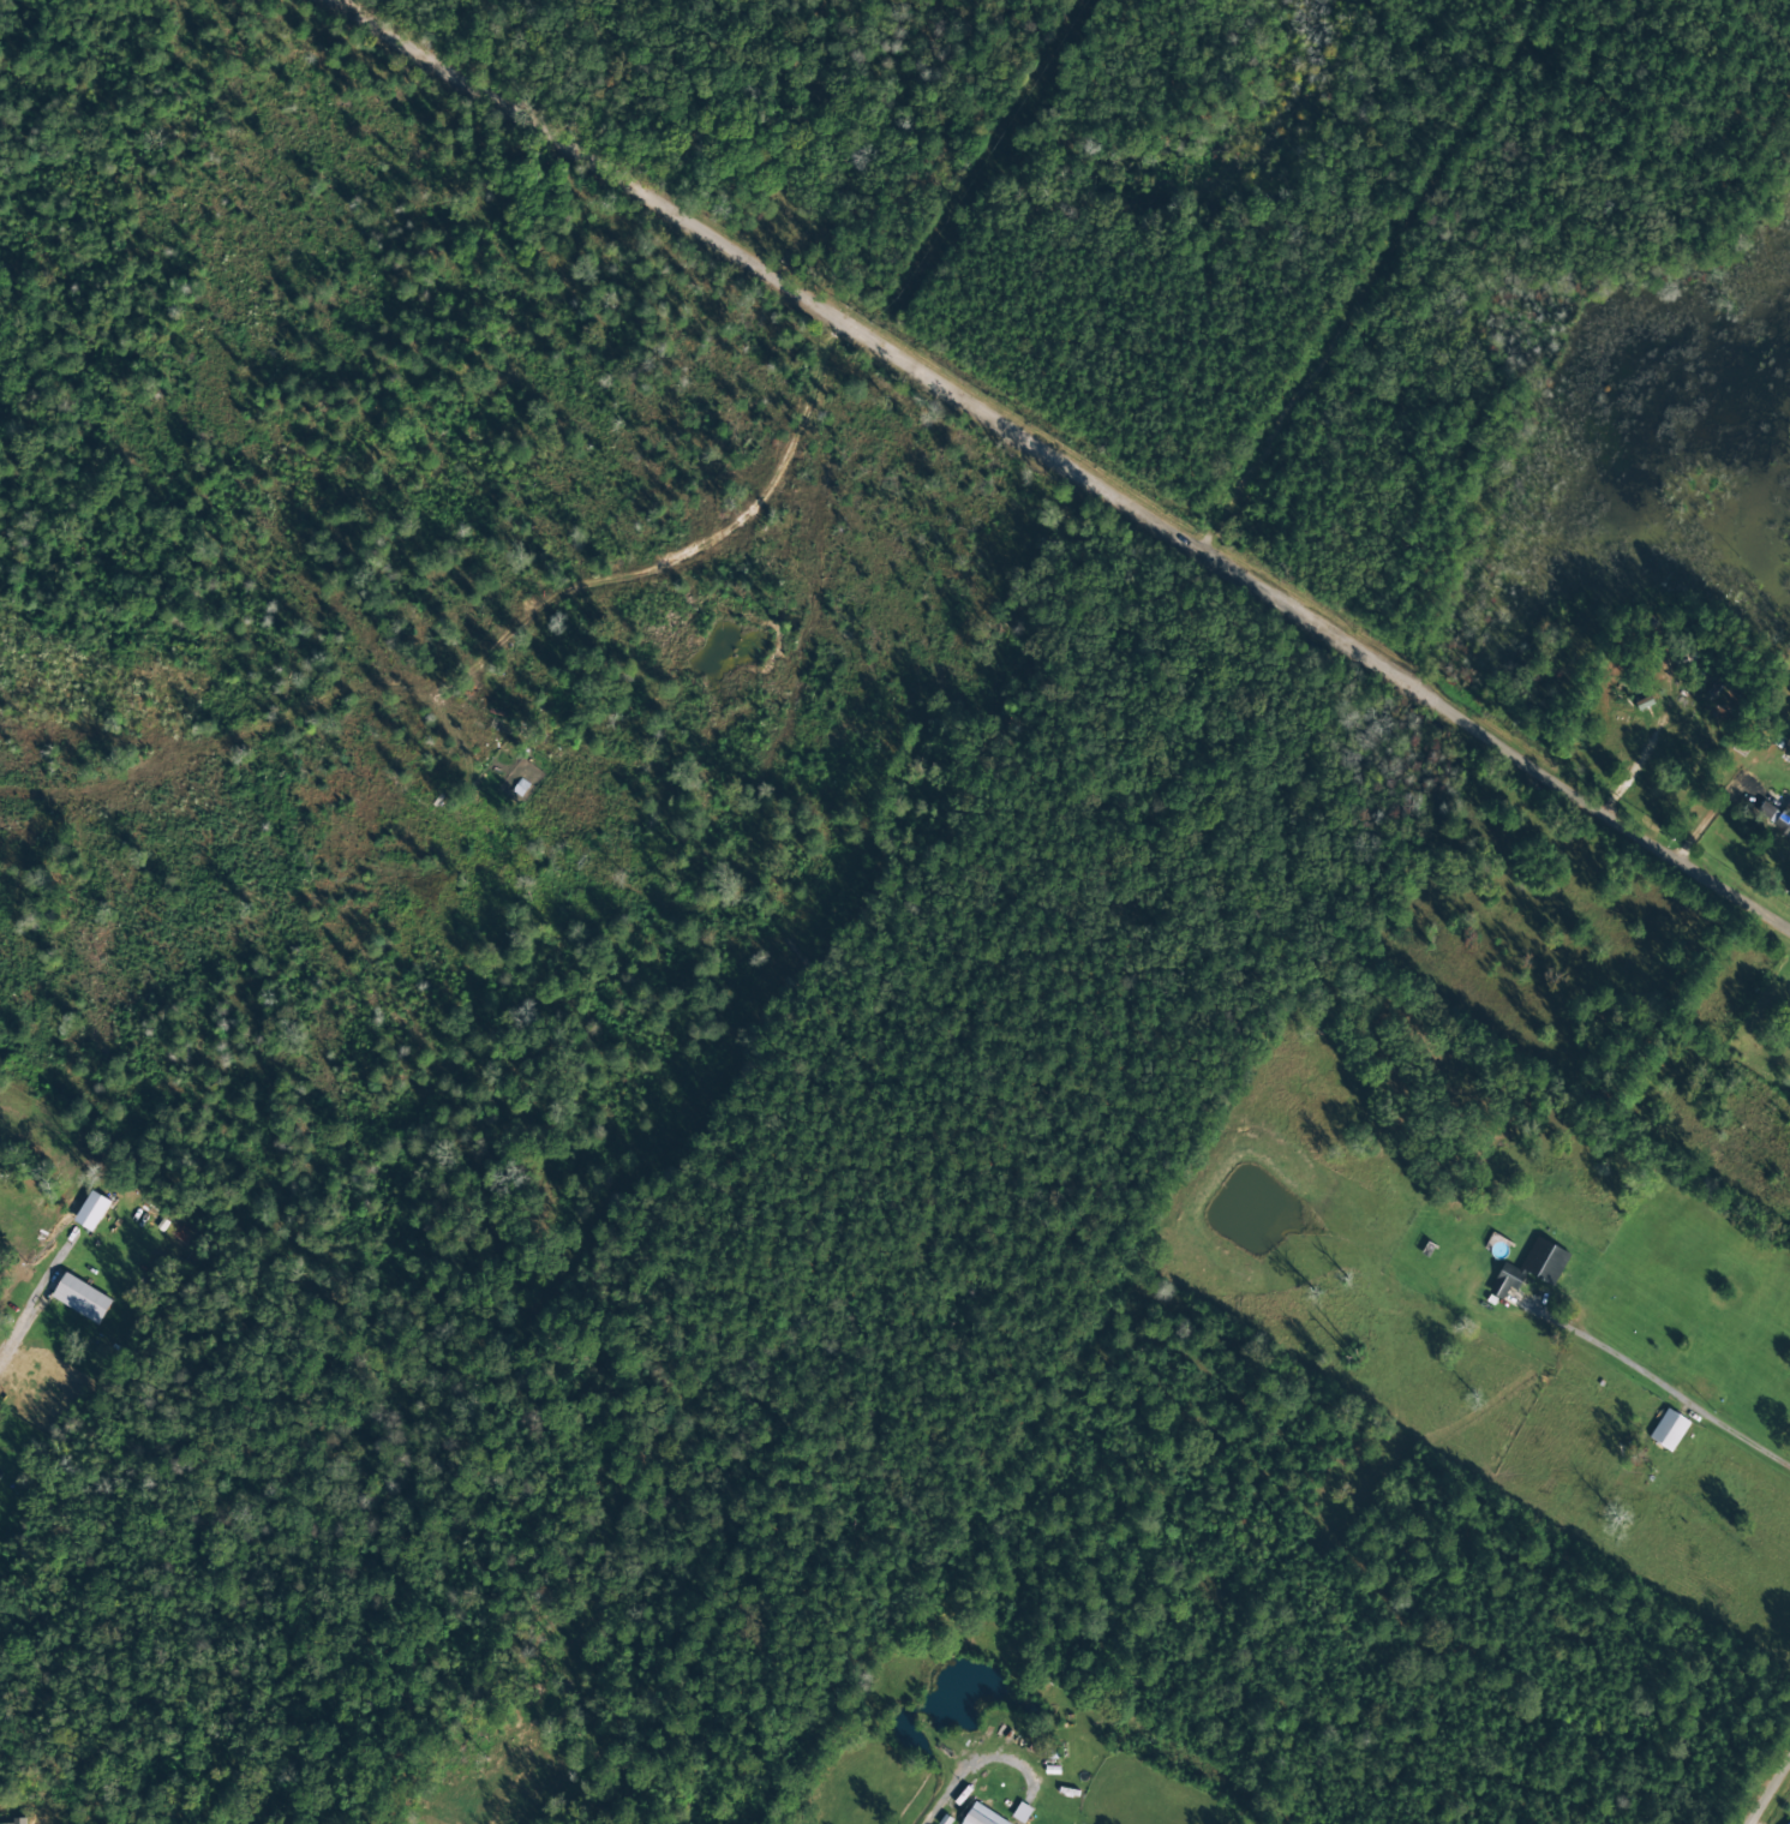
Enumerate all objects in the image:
road: (1071, 467)
building: (1776, 817)
building: (91, 1210)
building: (1531, 1268)
building: (82, 1298)
building: (1668, 1430)
road: (1770, 1790)
building: (981, 1816)
building: (19, 1820)

